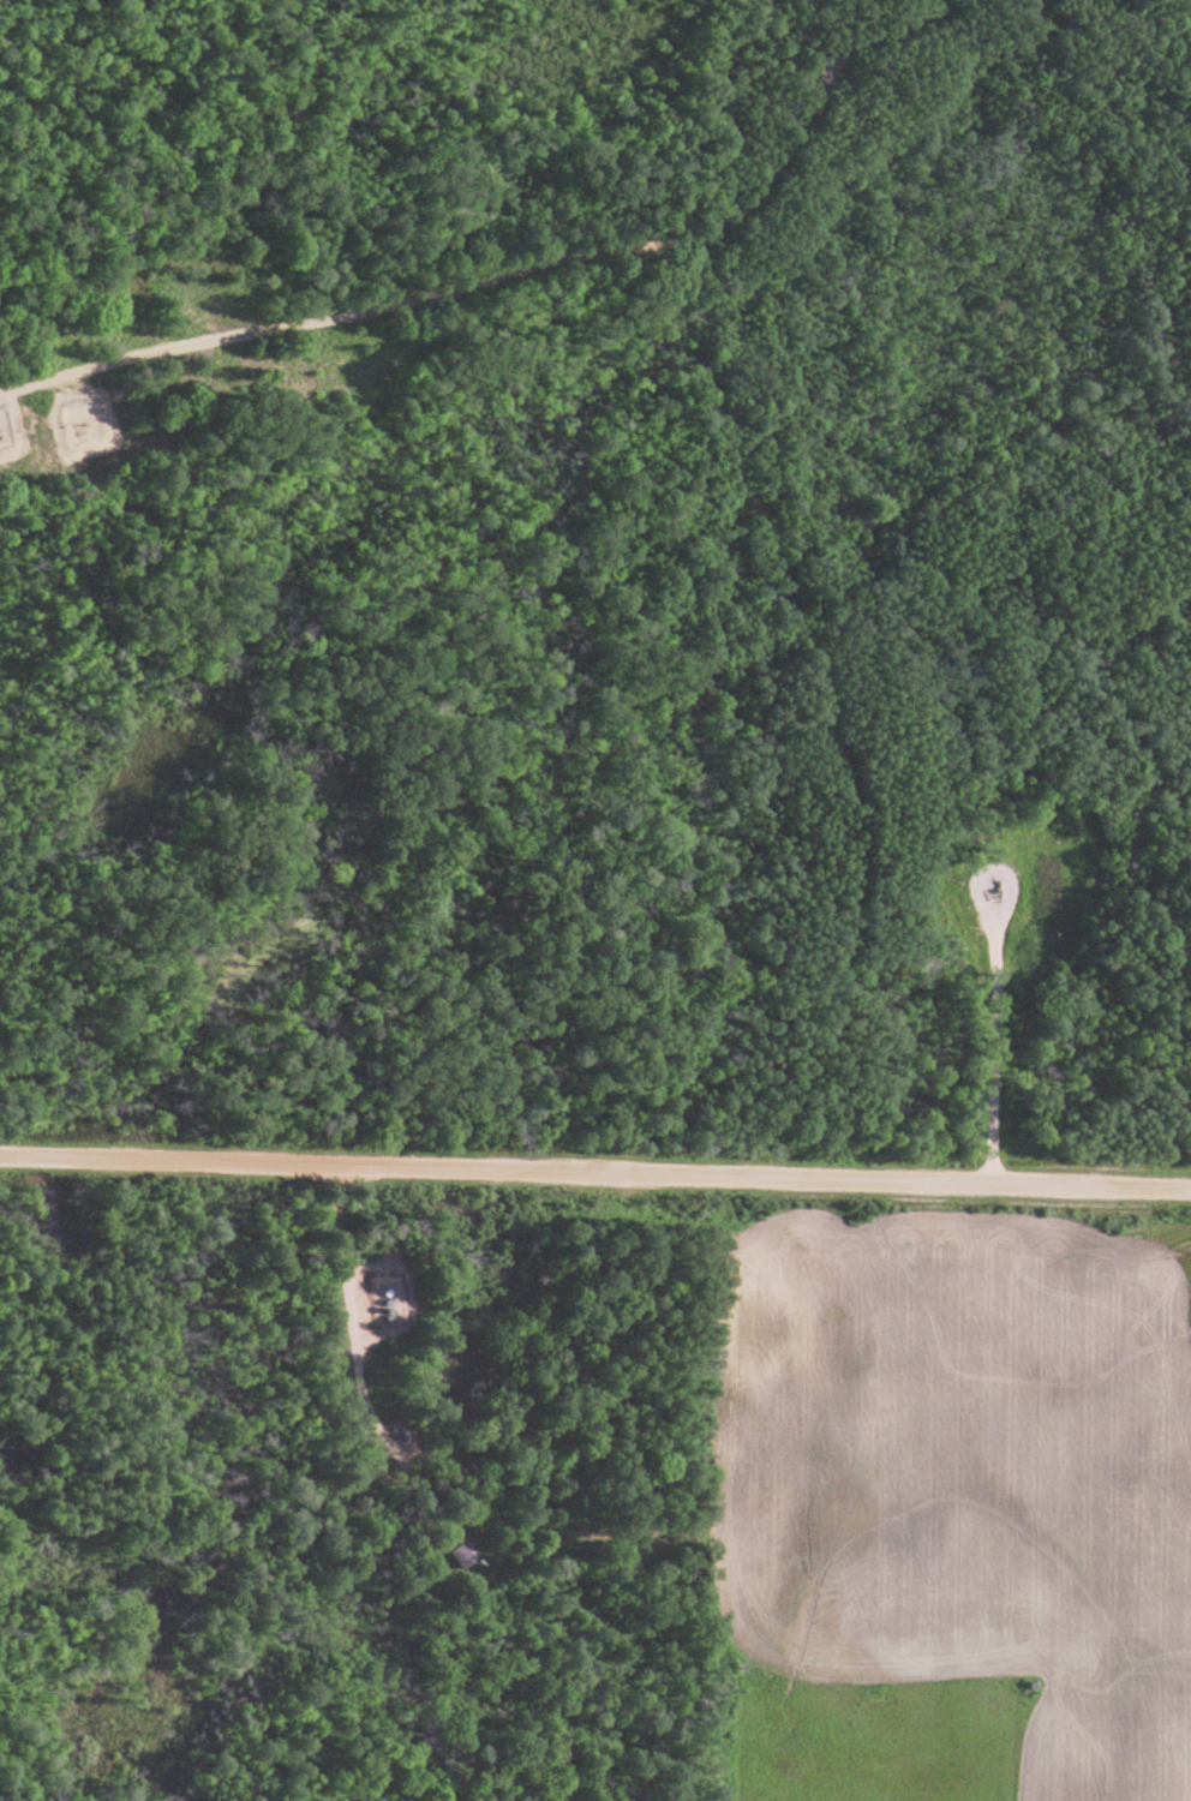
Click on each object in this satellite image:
road: (519, 282)
petroleum well: (995, 885)
road: (595, 1177)
building: (457, 1556)
petroleum well: (469, 1556)

